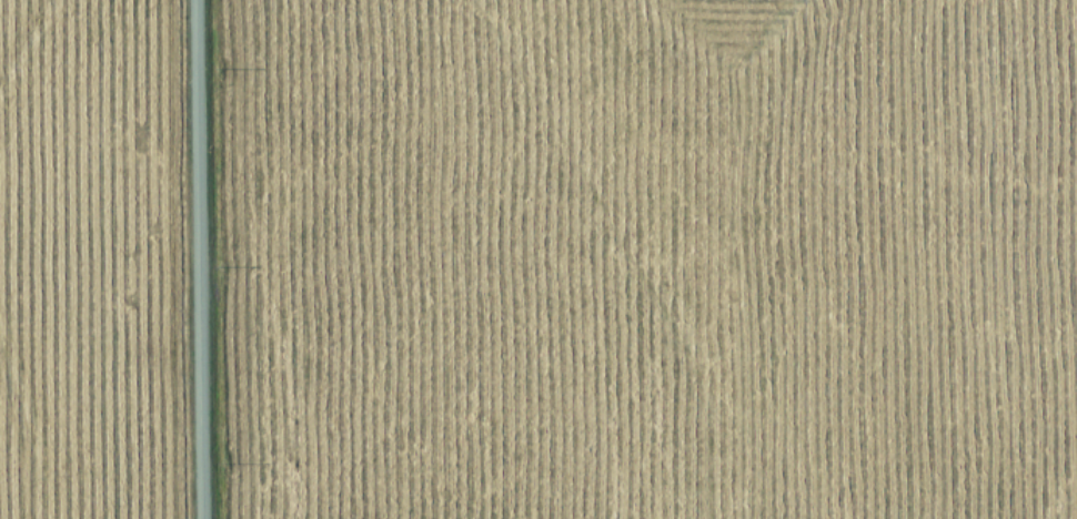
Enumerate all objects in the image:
crop: (650, 258)
road: (199, 259)
crop: (82, 262)

